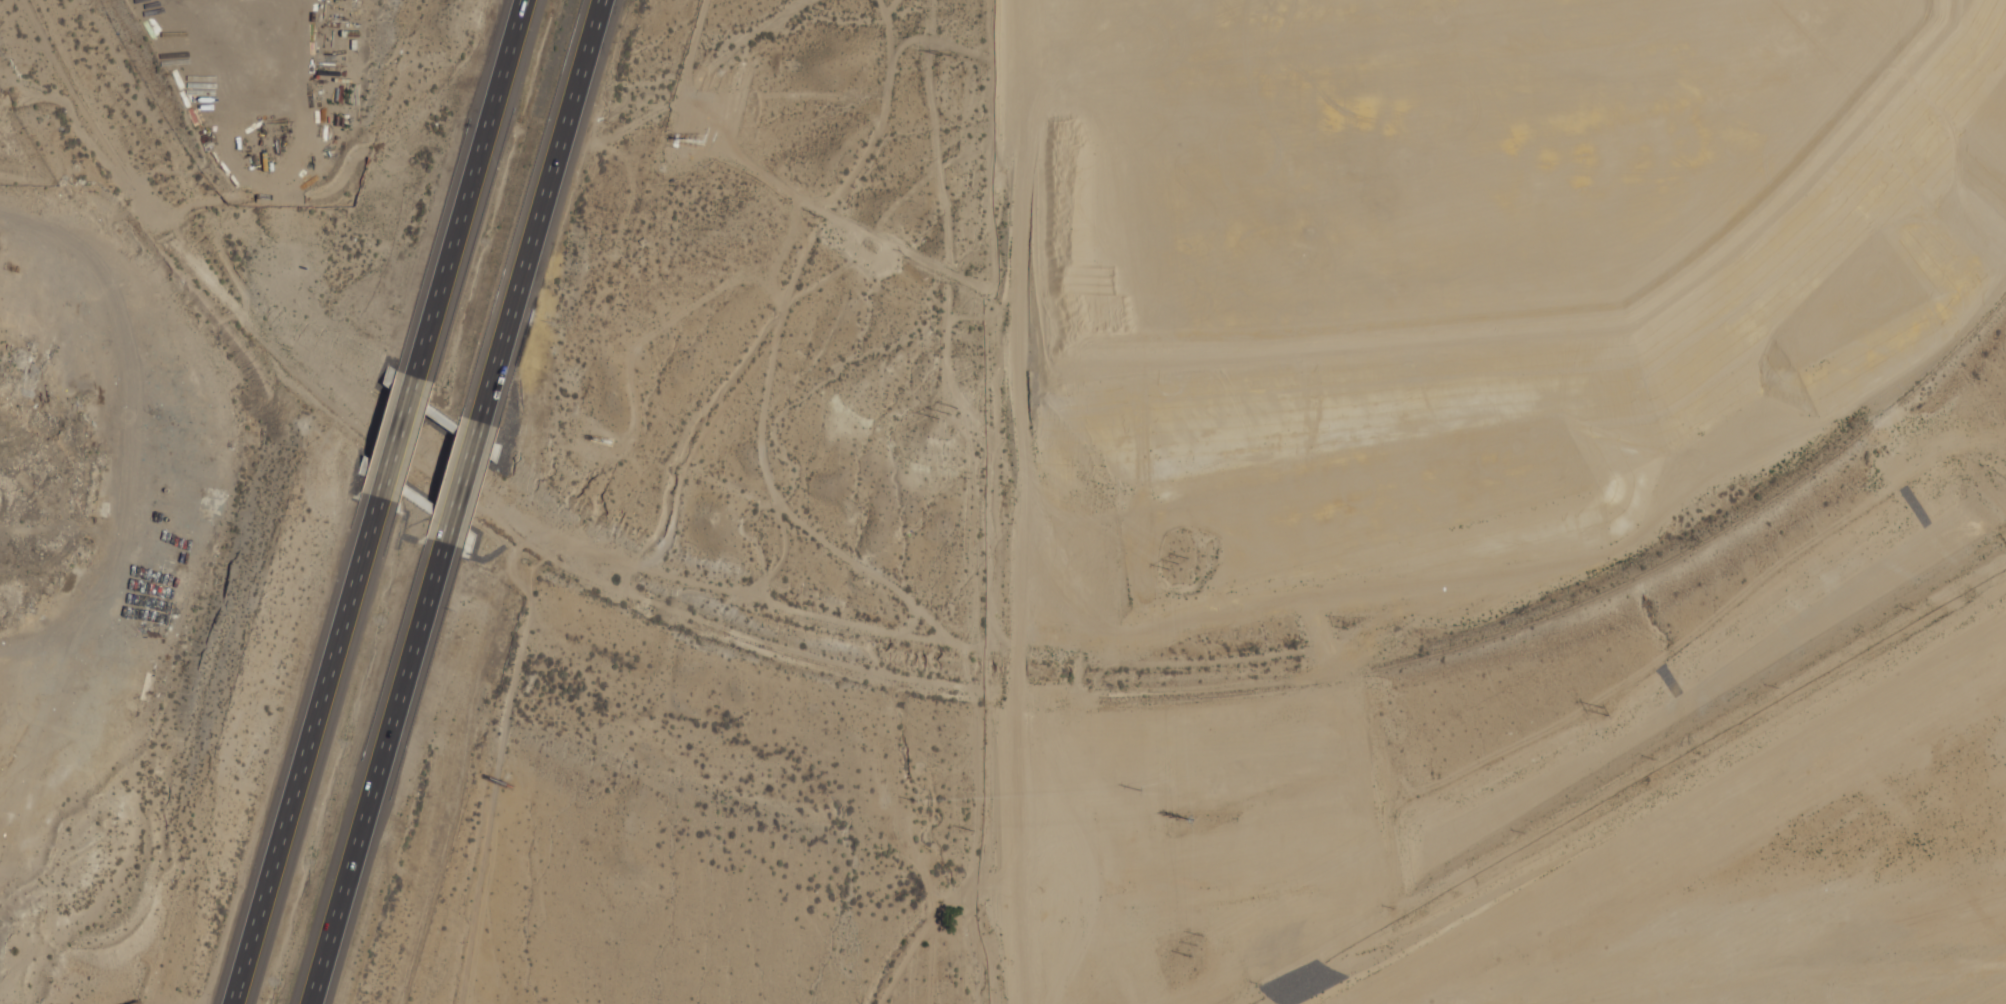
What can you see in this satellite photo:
railway: (77, 89)
road: (32, 186)
road: (468, 186)
road: (545, 213)
road: (395, 434)
road: (466, 485)
railway: (1600, 593)
railway: (803, 658)
road: (305, 750)
road: (383, 774)

